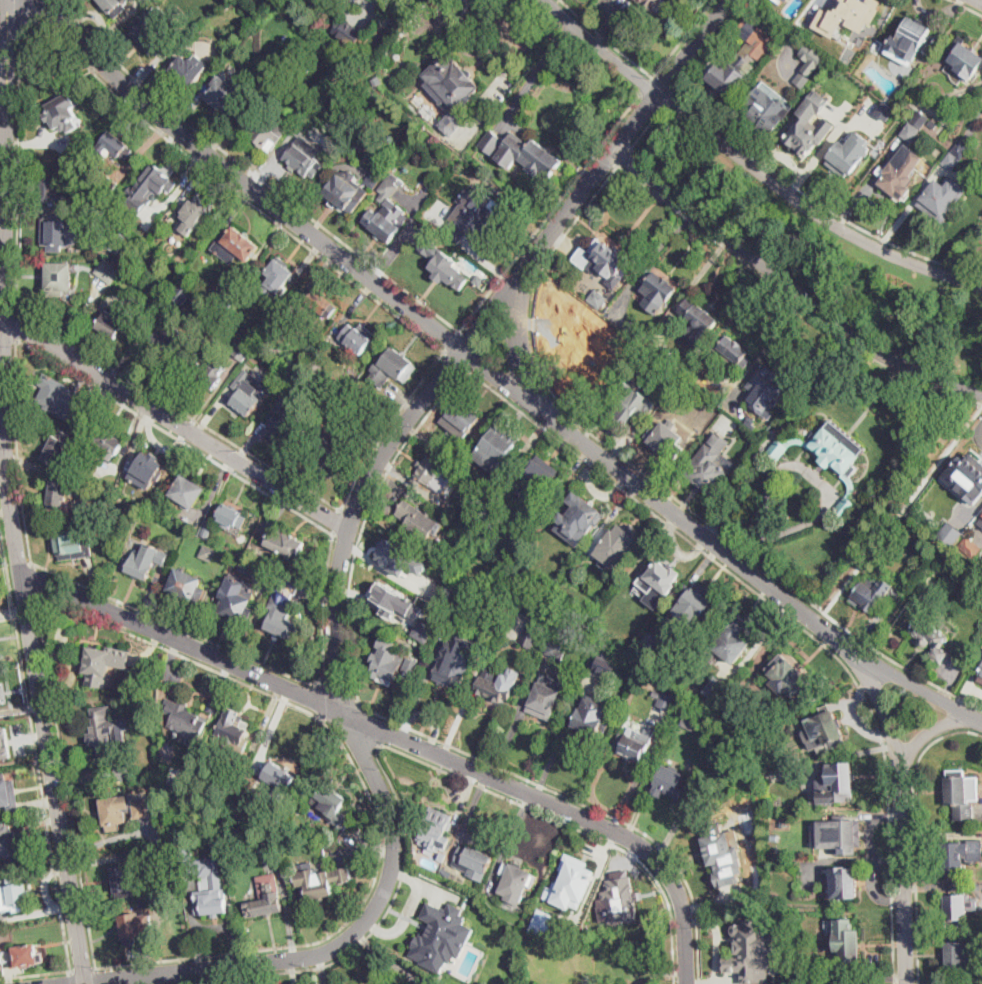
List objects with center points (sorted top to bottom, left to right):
building: (782, 0)
road: (981, 0)
building: (785, 1)
road: (363, 5)
building: (655, 5)
building: (114, 6)
road: (967, 6)
road: (51, 8)
road: (30, 10)
building: (848, 15)
road: (503, 22)
building: (348, 31)
building: (151, 32)
building: (762, 38)
building: (908, 41)
road: (693, 46)
road: (709, 46)
road: (601, 47)
road: (10, 50)
building: (965, 58)
building: (809, 62)
road: (515, 64)
building: (367, 66)
building: (187, 69)
road: (645, 71)
road: (536, 72)
building: (730, 73)
building: (378, 80)
road: (663, 85)
building: (499, 87)
road: (647, 87)
building: (451, 91)
building: (220, 94)
road: (123, 101)
road: (667, 102)
road: (651, 103)
building: (765, 110)
building: (885, 111)
building: (62, 112)
building: (919, 119)
building: (932, 125)
building: (264, 129)
road: (646, 131)
building: (910, 131)
building: (802, 135)
building: (491, 142)
building: (115, 146)
building: (960, 149)
building: (849, 154)
building: (305, 157)
building: (530, 158)
road: (625, 158)
building: (951, 161)
building: (980, 166)
building: (62, 170)
building: (899, 173)
building: (374, 178)
building: (152, 184)
building: (107, 185)
building: (388, 187)
building: (51, 192)
building: (347, 193)
building: (941, 199)
road: (816, 201)
road: (808, 207)
building: (194, 215)
building: (475, 216)
building: (386, 221)
building: (57, 236)
building: (115, 241)
building: (235, 245)
building: (607, 257)
building: (443, 262)
road: (372, 265)
building: (108, 271)
building: (279, 274)
building: (59, 278)
building: (480, 279)
road: (790, 284)
building: (183, 293)
building: (657, 293)
building: (221, 294)
building: (597, 300)
building: (323, 304)
building: (246, 315)
road: (532, 316)
building: (697, 321)
building: (120, 324)
road: (18, 326)
building: (631, 330)
road: (518, 334)
building: (169, 337)
building: (355, 337)
building: (251, 340)
road: (452, 341)
road: (451, 342)
building: (730, 348)
building: (242, 351)
road: (455, 359)
building: (677, 362)
building: (393, 368)
building: (211, 374)
building: (301, 384)
building: (769, 384)
building: (693, 386)
building: (55, 396)
building: (244, 397)
building: (629, 402)
building: (686, 408)
building: (348, 409)
building: (736, 409)
road: (180, 411)
building: (339, 415)
building: (462, 417)
building: (287, 418)
road: (169, 419)
building: (701, 426)
road: (387, 427)
building: (772, 433)
road: (175, 437)
building: (665, 439)
building: (106, 442)
building: (500, 446)
building: (59, 449)
building: (325, 449)
building: (760, 450)
road: (18, 453)
building: (830, 457)
building: (148, 464)
building: (711, 465)
building: (432, 473)
building: (535, 476)
building: (972, 477)
road: (823, 488)
building: (187, 491)
road: (10, 494)
building: (59, 496)
building: (931, 510)
building: (585, 515)
building: (231, 517)
building: (417, 521)
building: (486, 522)
road: (338, 523)
building: (207, 529)
building: (949, 533)
road: (360, 538)
building: (285, 543)
building: (71, 545)
building: (618, 545)
building: (970, 547)
building: (207, 553)
building: (401, 558)
building: (144, 560)
building: (246, 567)
building: (663, 574)
road: (34, 578)
building: (290, 584)
building: (187, 585)
building: (870, 593)
building: (396, 601)
building: (696, 604)
building: (236, 606)
road: (335, 609)
road: (787, 614)
building: (281, 615)
building: (424, 630)
building: (530, 634)
building: (930, 637)
building: (561, 640)
building: (650, 641)
building: (731, 641)
building: (555, 650)
road: (244, 655)
building: (386, 661)
building: (454, 662)
building: (104, 663)
building: (412, 666)
building: (597, 667)
building: (979, 675)
building: (793, 680)
building: (717, 688)
road: (919, 688)
building: (493, 689)
road: (320, 698)
building: (547, 698)
building: (0, 699)
building: (664, 700)
building: (185, 720)
building: (591, 720)
building: (689, 721)
building: (828, 725)
building: (107, 730)
building: (232, 730)
road: (387, 733)
road: (930, 733)
road: (399, 741)
building: (4, 742)
building: (635, 743)
road: (33, 745)
building: (122, 770)
building: (798, 774)
road: (63, 780)
building: (279, 781)
building: (668, 781)
building: (838, 783)
road: (369, 793)
building: (8, 794)
building: (963, 794)
building: (177, 796)
building: (333, 805)
road: (596, 809)
building: (123, 810)
road: (902, 814)
building: (184, 820)
road: (573, 827)
building: (270, 832)
road: (915, 834)
building: (434, 836)
building: (838, 836)
building: (8, 840)
building: (270, 846)
building: (170, 853)
building: (443, 856)
building: (723, 856)
building: (961, 856)
building: (473, 862)
building: (446, 873)
building: (124, 878)
building: (517, 880)
building: (571, 882)
building: (326, 883)
building: (845, 883)
building: (210, 886)
building: (13, 893)
building: (264, 897)
building: (617, 897)
building: (180, 907)
building: (959, 908)
building: (541, 920)
building: (136, 926)
road: (372, 934)
building: (441, 935)
building: (848, 939)
building: (751, 950)
building: (25, 955)
building: (960, 955)
road: (83, 970)
road: (35, 973)
road: (96, 975)
road: (71, 978)

